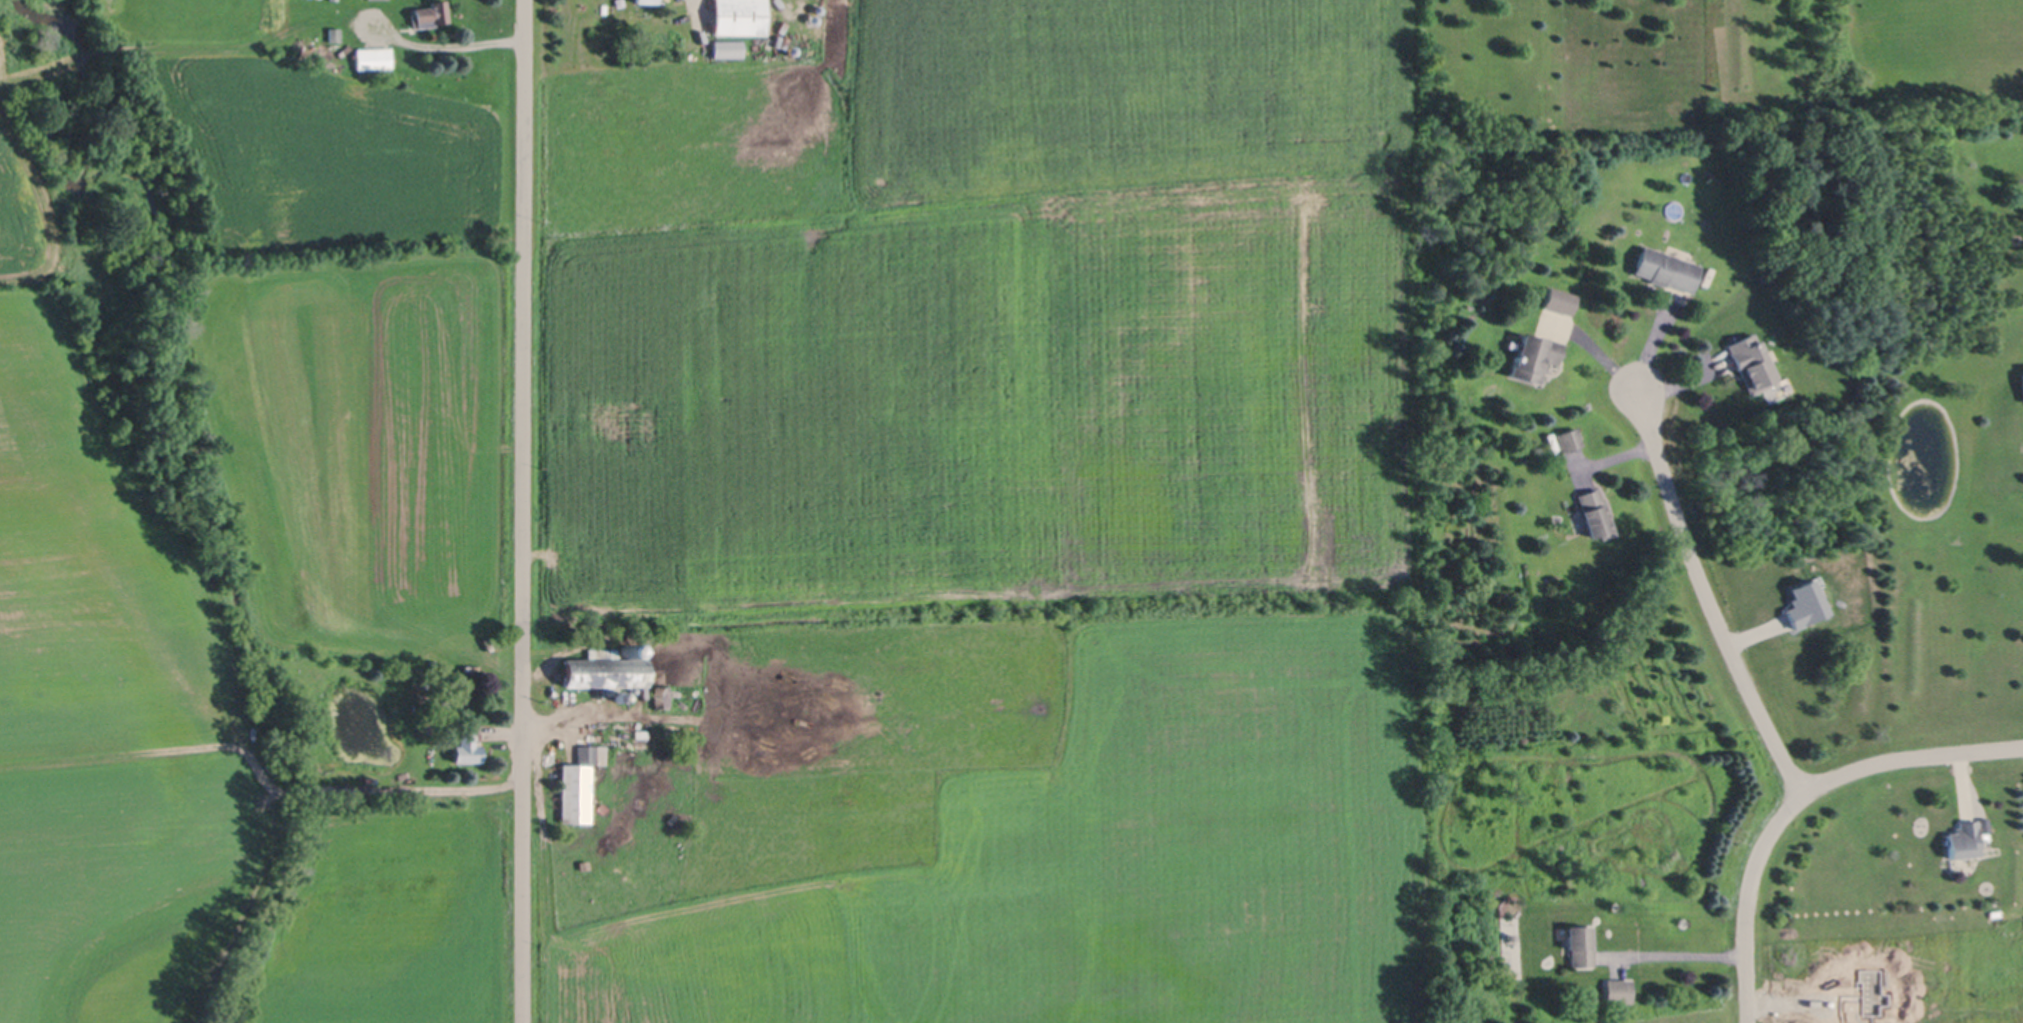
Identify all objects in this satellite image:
building: (646, 0)
building: (818, 10)
building: (429, 13)
building: (738, 16)
building: (813, 20)
building: (335, 33)
building: (727, 46)
building: (310, 50)
building: (792, 51)
building: (373, 57)
building: (1665, 269)
building: (1560, 301)
road: (1594, 349)
building: (1536, 356)
building: (1751, 363)
building: (2020, 385)
building: (1568, 439)
road: (523, 511)
building: (1594, 514)
crop: (1028, 532)
road: (1707, 594)
building: (1504, 596)
building: (1804, 604)
building: (627, 649)
building: (606, 672)
building: (622, 696)
building: (663, 696)
building: (672, 734)
building: (249, 735)
building: (313, 740)
building: (302, 742)
building: (467, 750)
building: (553, 750)
building: (426, 766)
building: (423, 779)
building: (579, 784)
road: (1796, 799)
building: (601, 810)
building: (1964, 841)
building: (1584, 944)
road: (1676, 952)
building: (1618, 991)

